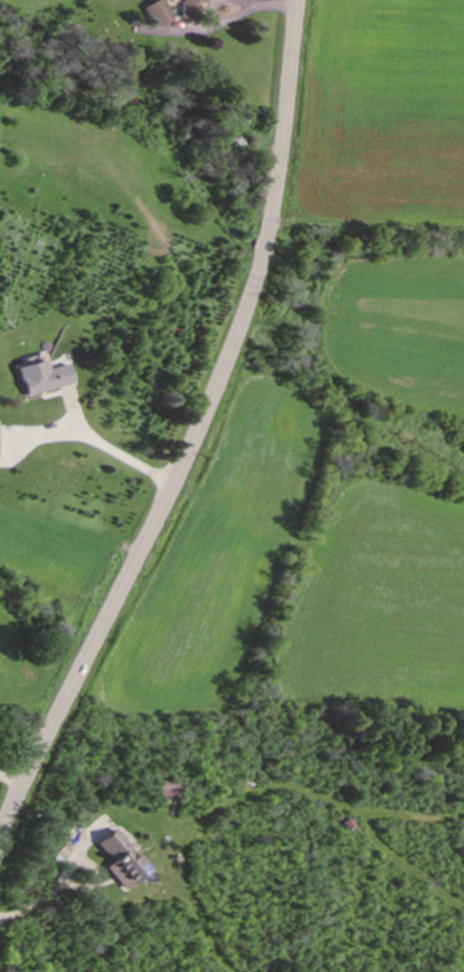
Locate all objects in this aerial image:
road: (236, 2)
road: (269, 6)
building: (183, 10)
building: (150, 15)
road: (220, 20)
crop: (22, 47)
building: (35, 379)
crop: (333, 424)
road: (191, 430)
road: (111, 450)
building: (116, 860)
road: (95, 869)
road: (32, 905)

